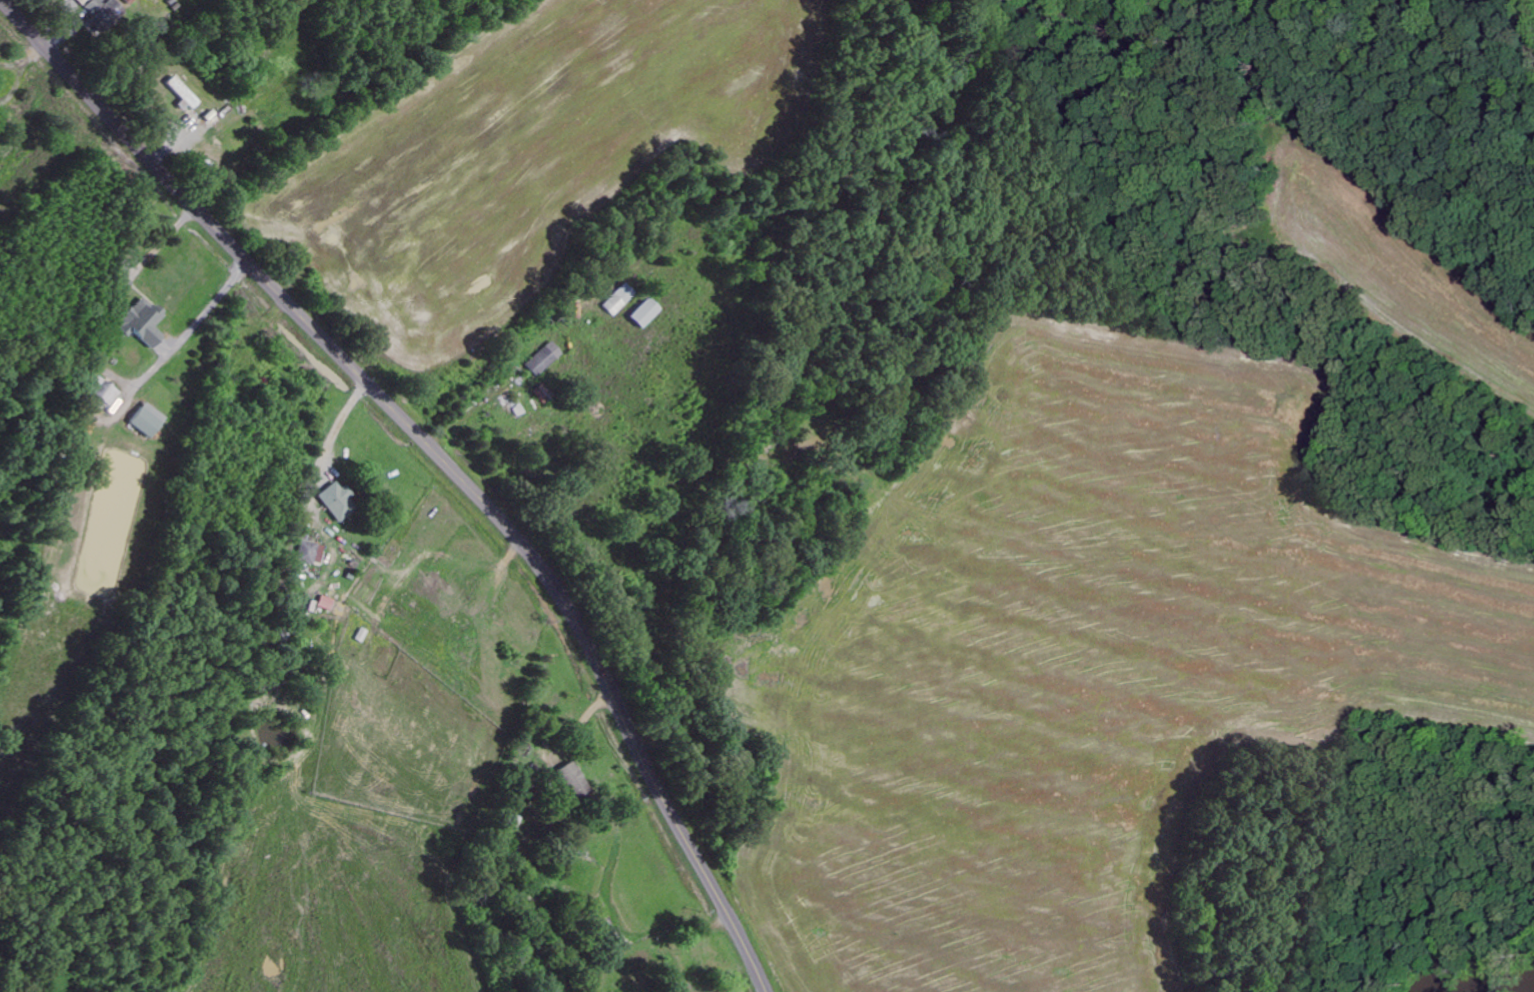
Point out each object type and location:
building: (181, 92)
building: (616, 298)
building: (642, 312)
building: (141, 321)
building: (542, 358)
building: (104, 389)
building: (147, 419)
road: (440, 455)
building: (337, 500)
building: (309, 552)
building: (325, 602)
building: (573, 780)
building: (510, 821)
river: (1502, 988)

